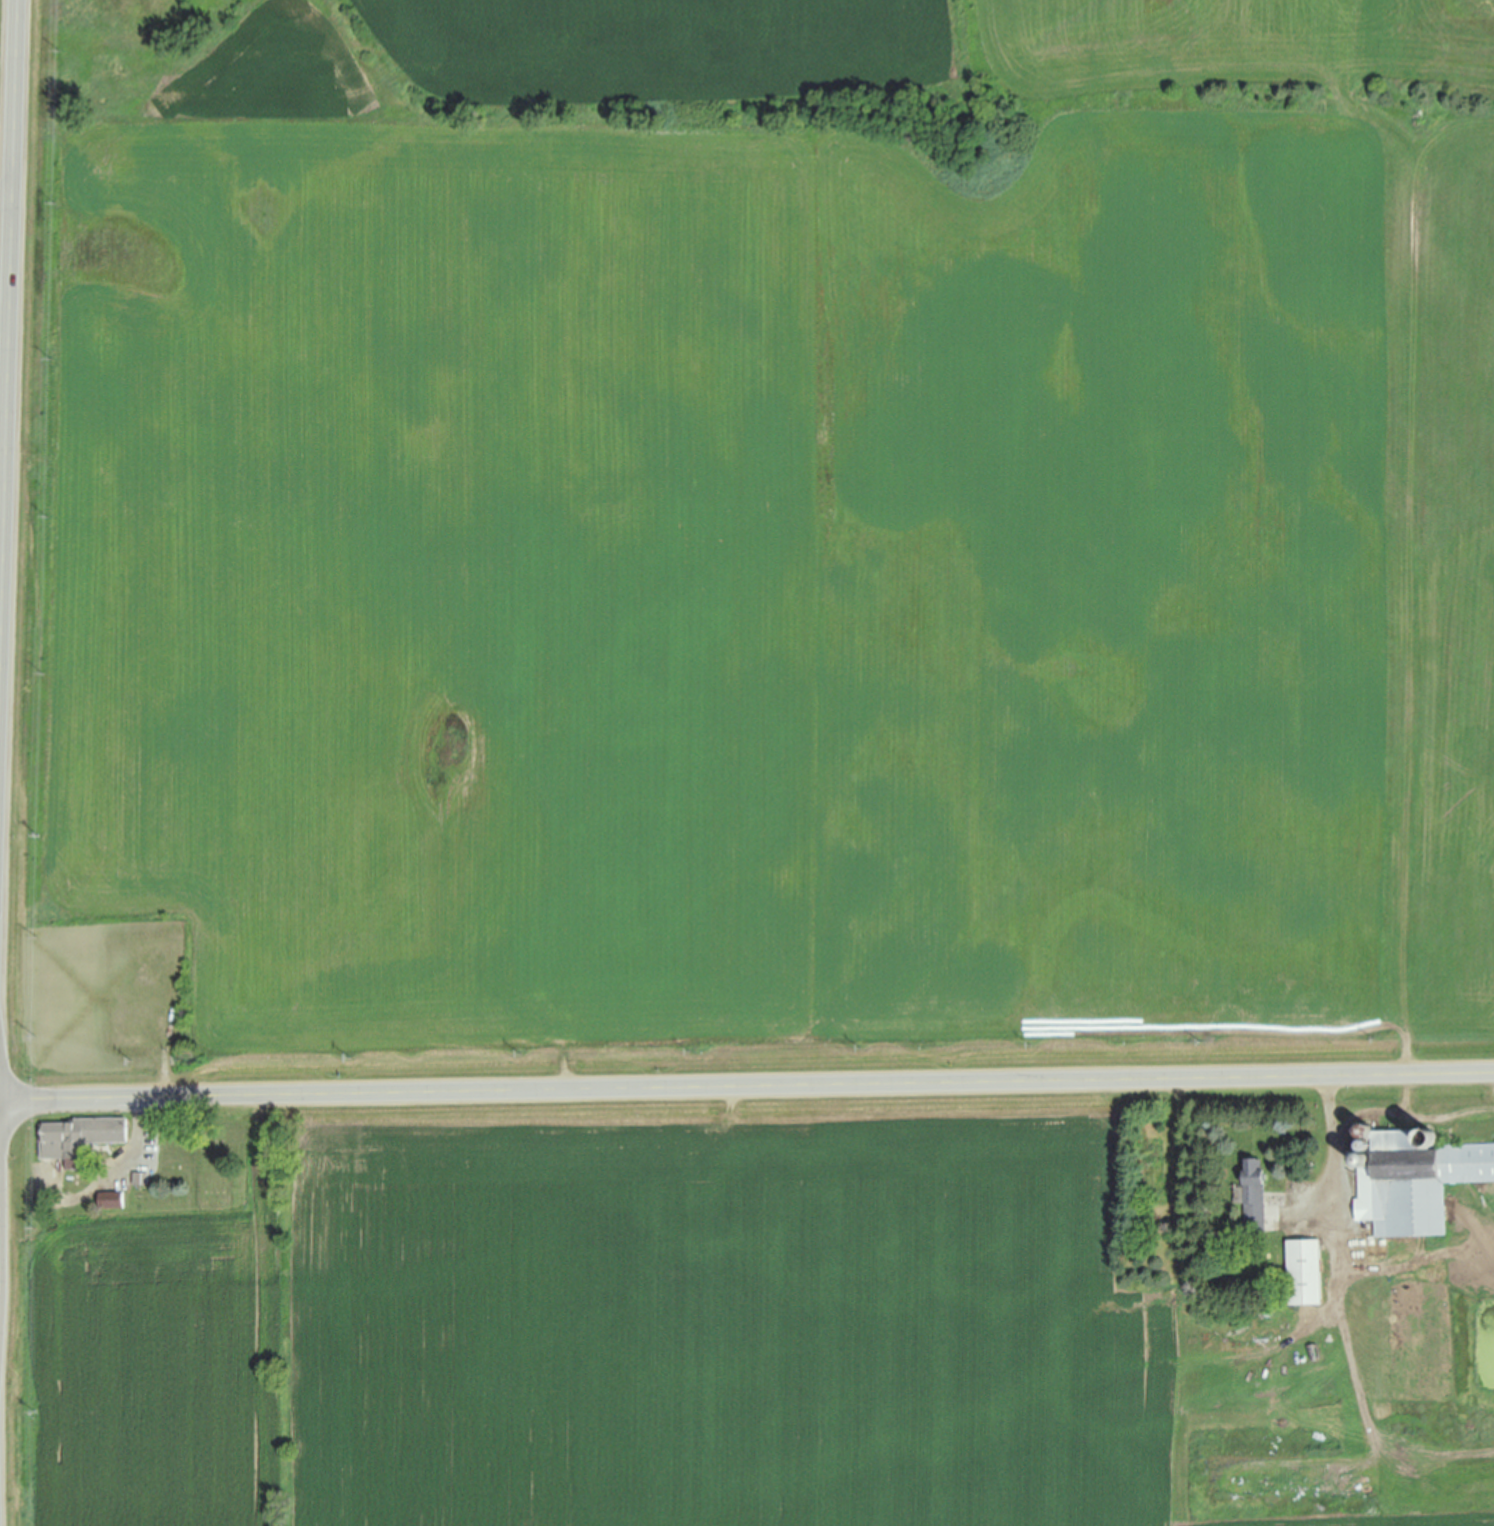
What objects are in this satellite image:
road: (6, 195)
road: (8, 374)
road: (746, 1085)
building: (82, 1138)
building: (1366, 1144)
building: (1364, 1159)
road: (1337, 1177)
building: (142, 1178)
building: (1416, 1180)
building: (1255, 1196)
building: (114, 1200)
building: (1306, 1272)
building: (1271, 1313)
building: (1316, 1351)

